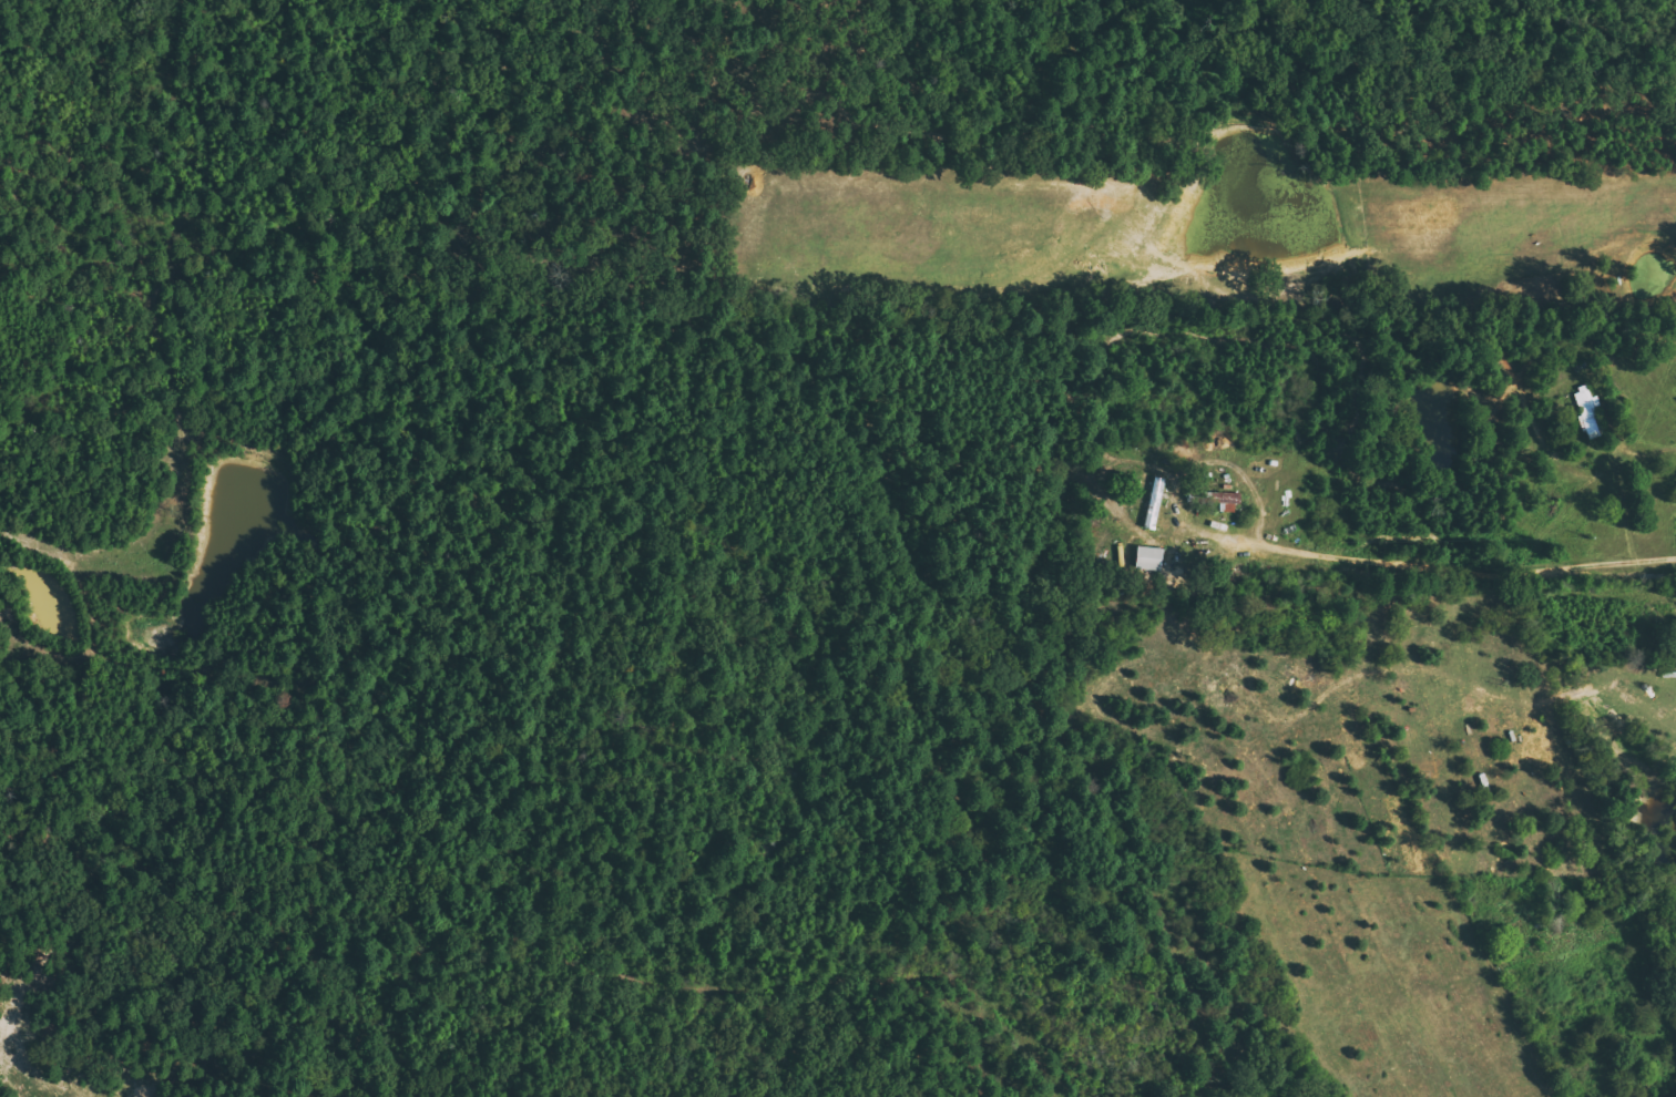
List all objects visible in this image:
building: (1588, 412)
building: (1224, 501)
building: (1156, 502)
building: (1152, 557)

